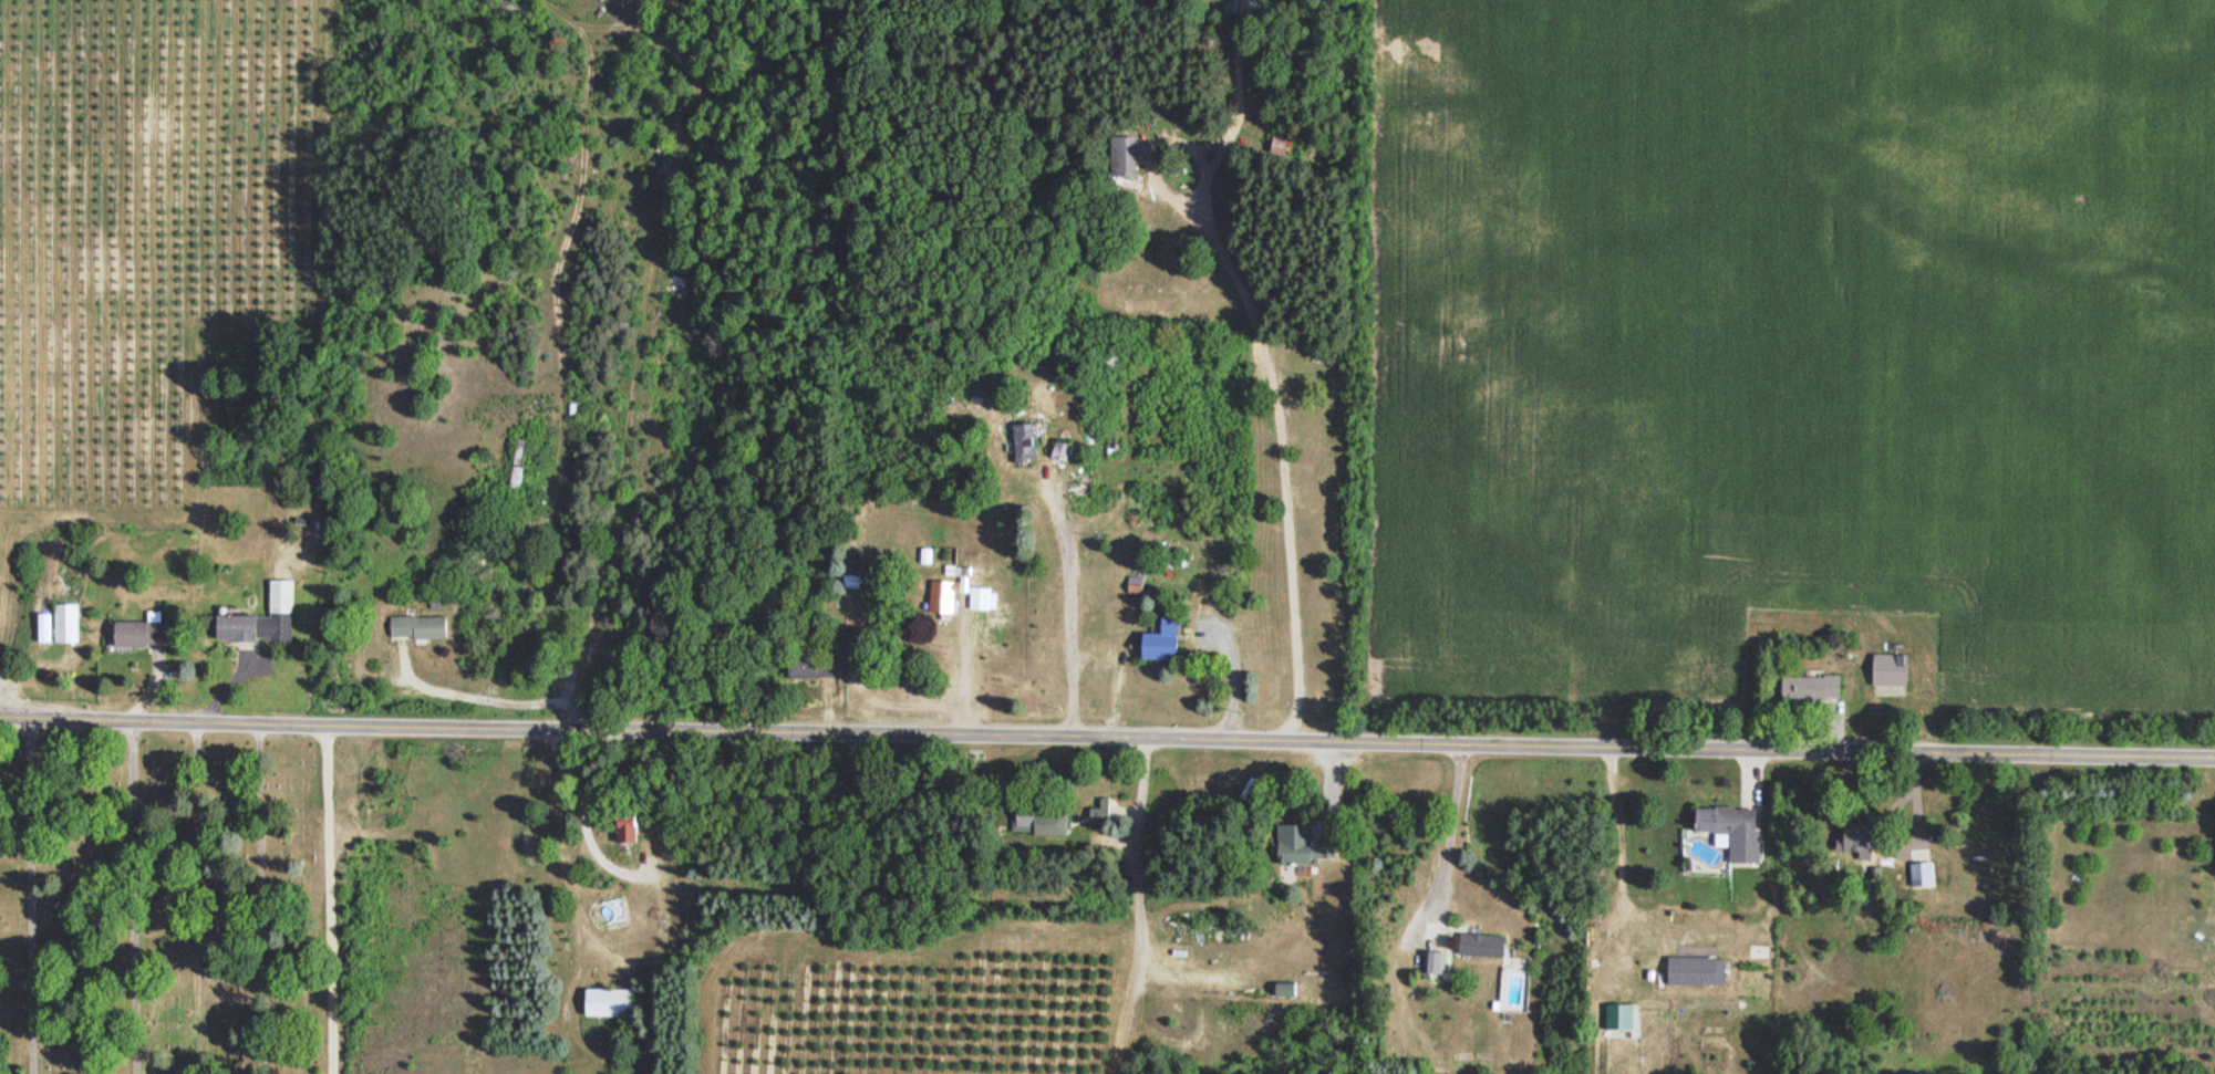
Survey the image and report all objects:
building: (1121, 158)
building: (1108, 358)
building: (1022, 441)
building: (1056, 452)
building: (515, 467)
building: (939, 599)
building: (281, 612)
building: (58, 627)
building: (414, 630)
building: (240, 632)
building: (141, 636)
building: (1152, 645)
building: (1885, 672)
building: (1805, 690)
road: (1107, 738)
building: (1098, 812)
building: (1035, 825)
building: (623, 827)
building: (1727, 832)
building: (1852, 844)
building: (1293, 848)
building: (1918, 877)
park: (168, 906)
building: (1478, 948)
building: (1430, 964)
building: (1693, 972)
building: (1281, 992)
building: (604, 1005)

